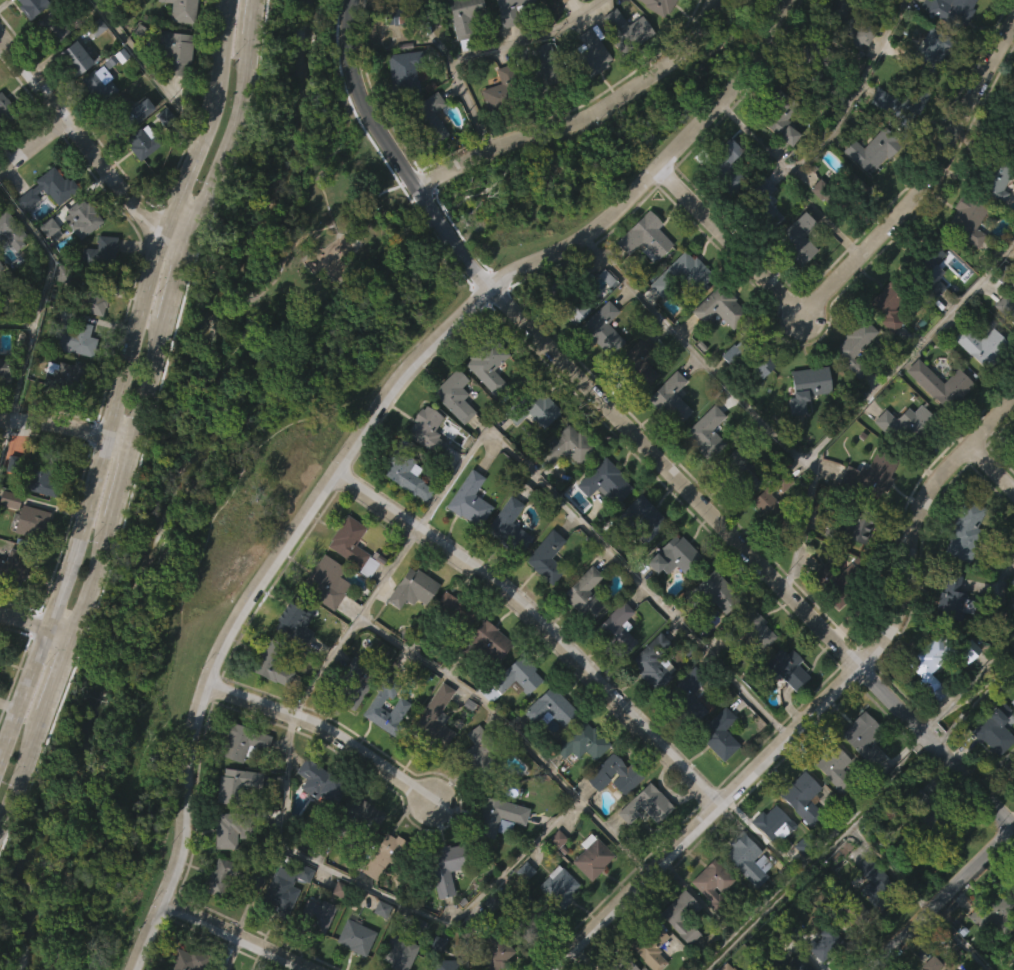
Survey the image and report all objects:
building: (561, 0)
building: (612, 0)
building: (875, 1)
building: (660, 5)
building: (677, 5)
building: (32, 6)
building: (970, 6)
building: (183, 10)
building: (509, 10)
building: (951, 11)
building: (9, 12)
building: (406, 14)
road: (249, 16)
building: (466, 19)
building: (850, 21)
building: (53, 27)
building: (628, 29)
building: (91, 30)
building: (656, 34)
building: (508, 37)
building: (28, 41)
building: (948, 42)
building: (834, 47)
building: (176, 50)
building: (928, 50)
building: (461, 51)
road: (491, 52)
building: (390, 54)
building: (588, 56)
building: (75, 58)
building: (624, 66)
building: (816, 66)
road: (147, 68)
building: (53, 70)
building: (405, 71)
building: (859, 71)
building: (541, 72)
road: (356, 81)
building: (99, 84)
building: (926, 87)
building: (172, 89)
building: (503, 91)
building: (588, 92)
building: (71, 96)
building: (901, 103)
building: (6, 108)
building: (400, 110)
building: (123, 113)
building: (538, 114)
building: (782, 117)
building: (429, 119)
building: (96, 122)
road: (566, 122)
building: (495, 129)
building: (1008, 132)
building: (150, 134)
road: (832, 134)
building: (896, 142)
road: (33, 145)
road: (90, 151)
building: (872, 151)
road: (227, 152)
building: (160, 154)
building: (428, 154)
building: (1009, 155)
building: (777, 159)
building: (728, 167)
building: (996, 177)
building: (140, 180)
building: (49, 188)
building: (867, 190)
building: (843, 195)
building: (763, 205)
building: (723, 213)
building: (82, 217)
building: (992, 219)
building: (970, 220)
building: (45, 226)
building: (817, 228)
building: (11, 229)
building: (646, 236)
building: (800, 239)
building: (762, 244)
building: (101, 253)
road: (860, 254)
building: (76, 255)
building: (963, 258)
building: (45, 265)
building: (1, 266)
building: (927, 268)
building: (641, 274)
building: (683, 275)
building: (794, 277)
building: (92, 294)
road: (172, 296)
building: (567, 297)
building: (20, 302)
building: (894, 303)
building: (1005, 306)
building: (722, 307)
building: (922, 310)
road: (37, 311)
building: (677, 313)
building: (59, 314)
road: (17, 323)
building: (604, 329)
building: (76, 340)
building: (983, 343)
building: (716, 346)
building: (858, 346)
building: (884, 346)
building: (573, 347)
building: (752, 354)
building: (486, 362)
building: (639, 363)
building: (204, 364)
building: (599, 367)
building: (6, 372)
building: (72, 377)
road: (120, 379)
building: (976, 382)
building: (850, 383)
building: (942, 384)
road: (149, 386)
building: (809, 387)
building: (727, 392)
building: (453, 395)
building: (672, 399)
building: (634, 400)
building: (483, 403)
building: (530, 404)
building: (757, 404)
building: (2, 405)
building: (61, 412)
building: (936, 422)
road: (368, 424)
building: (802, 425)
building: (906, 426)
road: (68, 427)
building: (426, 430)
building: (449, 431)
building: (708, 431)
building: (667, 437)
building: (568, 447)
building: (531, 449)
road: (802, 458)
building: (900, 462)
road: (992, 466)
building: (423, 468)
building: (741, 468)
building: (702, 470)
building: (406, 474)
building: (34, 475)
building: (869, 476)
road: (123, 480)
park: (219, 480)
building: (606, 482)
building: (563, 484)
building: (192, 495)
building: (471, 501)
road: (700, 503)
building: (773, 503)
building: (739, 509)
building: (401, 513)
building: (867, 513)
building: (641, 518)
building: (606, 519)
building: (33, 523)
building: (511, 524)
building: (854, 528)
building: (967, 530)
road: (591, 531)
building: (8, 537)
building: (466, 537)
building: (764, 541)
building: (353, 546)
building: (639, 555)
building: (676, 555)
building: (547, 557)
building: (28, 559)
building: (155, 561)
building: (506, 562)
building: (848, 566)
building: (14, 567)
building: (960, 568)
road: (93, 578)
building: (835, 581)
building: (327, 582)
building: (1013, 582)
building: (348, 583)
building: (414, 589)
building: (670, 593)
building: (710, 593)
building: (141, 595)
building: (542, 595)
building: (586, 595)
building: (955, 600)
building: (13, 606)
building: (454, 612)
building: (323, 618)
building: (294, 620)
building: (1009, 620)
road: (353, 621)
building: (832, 621)
road: (538, 624)
building: (409, 626)
building: (709, 626)
building: (619, 628)
road: (37, 630)
building: (749, 630)
building: (580, 631)
building: (947, 635)
building: (492, 640)
building: (453, 648)
building: (970, 651)
building: (0, 652)
road: (993, 655)
building: (289, 661)
building: (655, 663)
building: (272, 664)
building: (933, 665)
building: (615, 666)
building: (752, 668)
building: (785, 669)
building: (516, 674)
road: (60, 676)
building: (486, 678)
building: (352, 684)
building: (964, 688)
building: (688, 697)
building: (926, 703)
building: (647, 704)
building: (549, 706)
building: (781, 706)
road: (819, 706)
building: (385, 707)
building: (269, 708)
building: (509, 717)
building: (352, 719)
building: (433, 719)
building: (992, 731)
road: (327, 732)
building: (684, 732)
building: (720, 735)
building: (866, 737)
building: (244, 742)
building: (583, 742)
building: (397, 743)
building: (547, 745)
building: (432, 754)
building: (480, 754)
building: (1011, 764)
building: (836, 766)
road: (23, 769)
building: (990, 769)
building: (715, 772)
building: (628, 774)
building: (859, 775)
building: (578, 779)
building: (318, 781)
building: (236, 784)
building: (474, 787)
building: (803, 796)
building: (649, 804)
building: (830, 805)
building: (610, 812)
building: (363, 813)
building: (499, 816)
building: (933, 817)
building: (317, 820)
building: (774, 823)
building: (230, 827)
building: (798, 835)
building: (642, 842)
building: (358, 852)
building: (495, 854)
building: (386, 855)
building: (593, 856)
building: (745, 859)
building: (769, 861)
building: (444, 866)
building: (225, 875)
building: (877, 882)
building: (715, 884)
building: (560, 887)
building: (379, 894)
building: (588, 894)
building: (280, 895)
building: (742, 895)
road: (937, 903)
building: (440, 906)
building: (998, 908)
building: (520, 909)
building: (301, 910)
building: (866, 910)
building: (853, 912)
building: (216, 915)
building: (317, 915)
building: (531, 915)
building: (677, 916)
road: (432, 918)
building: (708, 919)
building: (555, 924)
building: (467, 930)
building: (276, 932)
road: (236, 935)
building: (357, 936)
building: (824, 939)
building: (651, 945)
building: (378, 946)
building: (492, 949)
building: (675, 950)
building: (984, 950)
building: (400, 951)
building: (313, 952)
building: (776, 956)
building: (188, 959)
building: (622, 963)
building: (931, 963)
building: (451, 964)
building: (350, 965)
building: (650, 966)
building: (823, 967)

